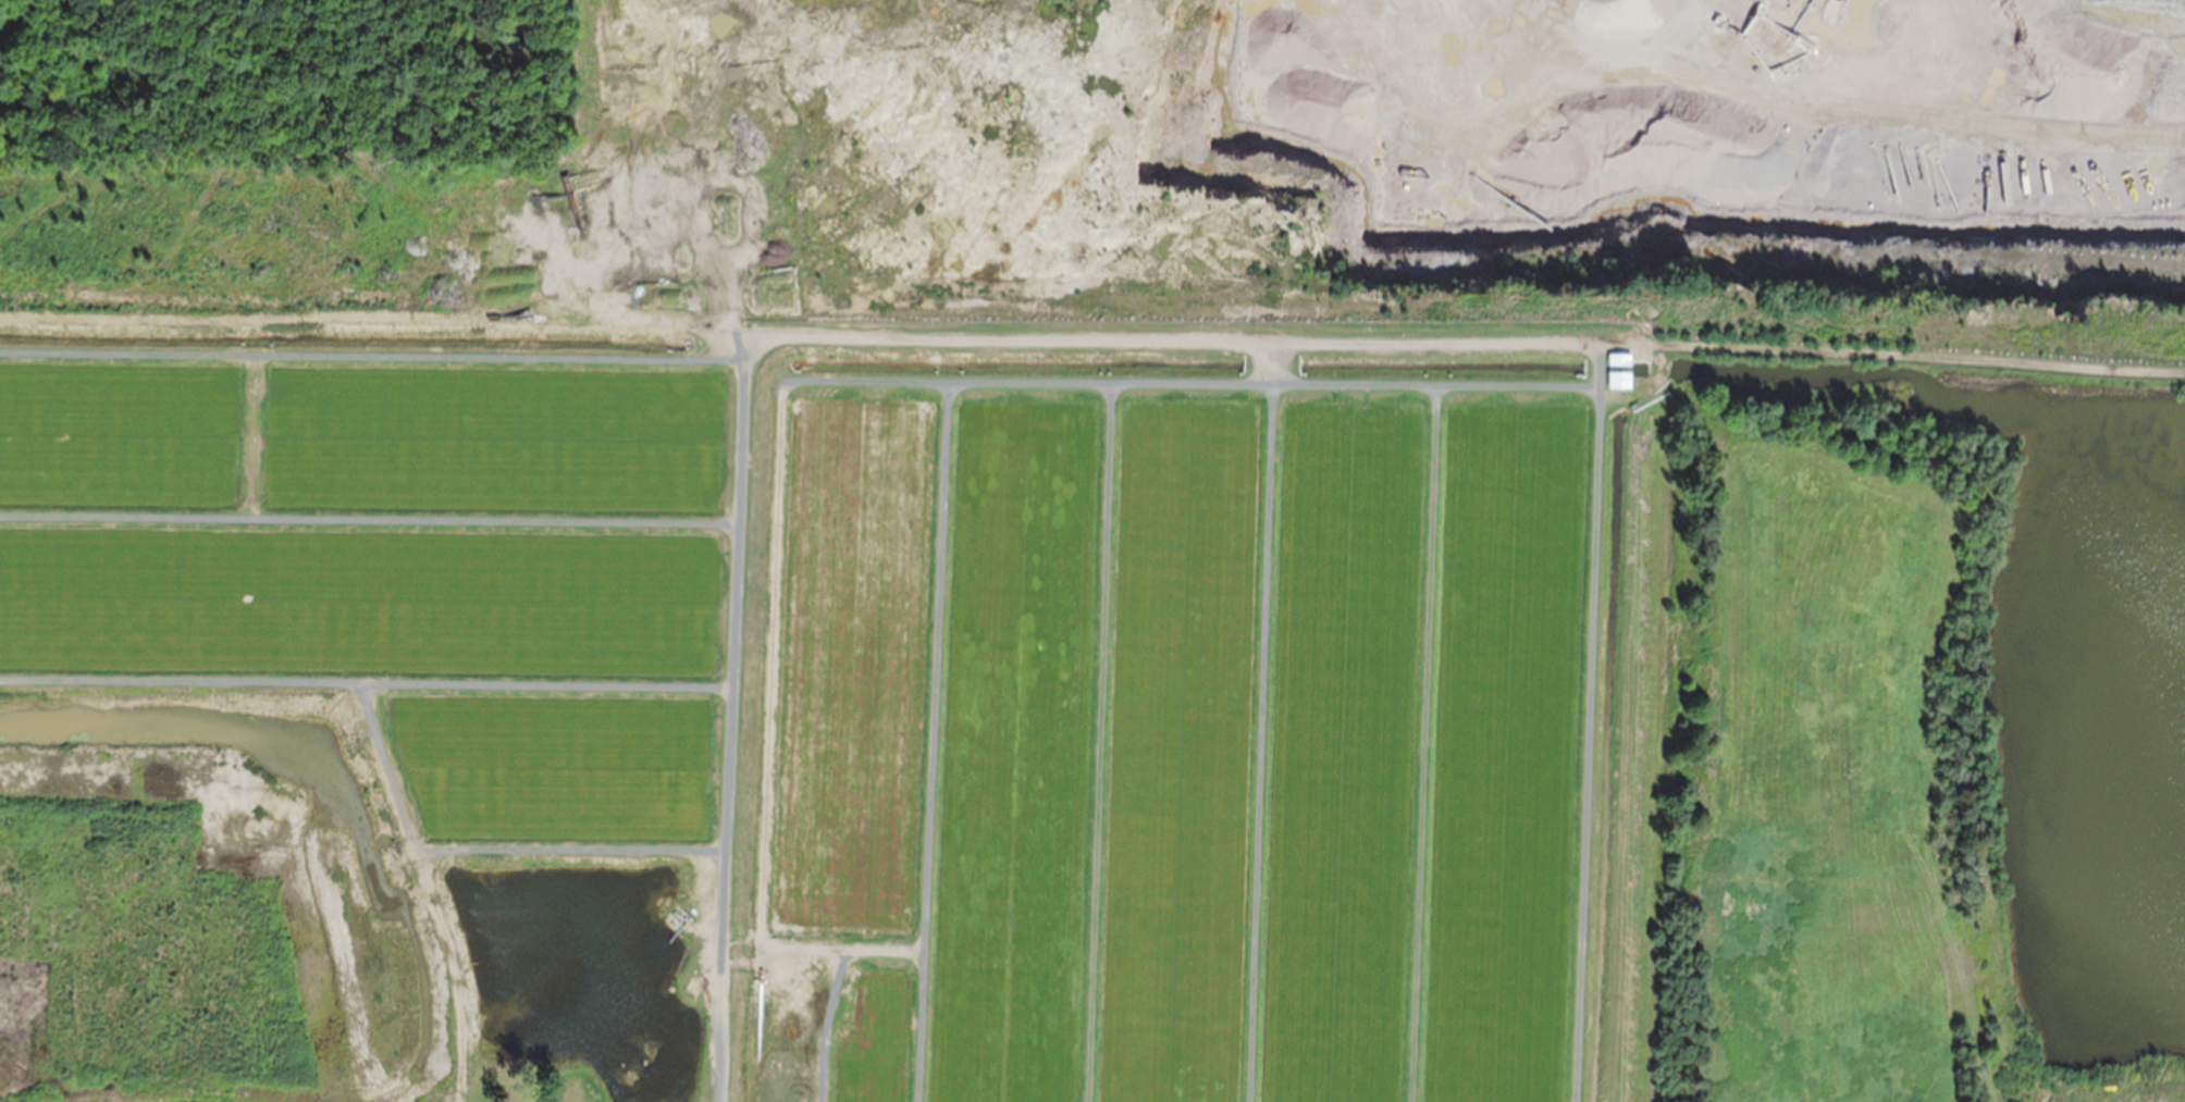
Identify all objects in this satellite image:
landfill: (1217, 265)
building: (1620, 360)
crop: (1003, 754)

